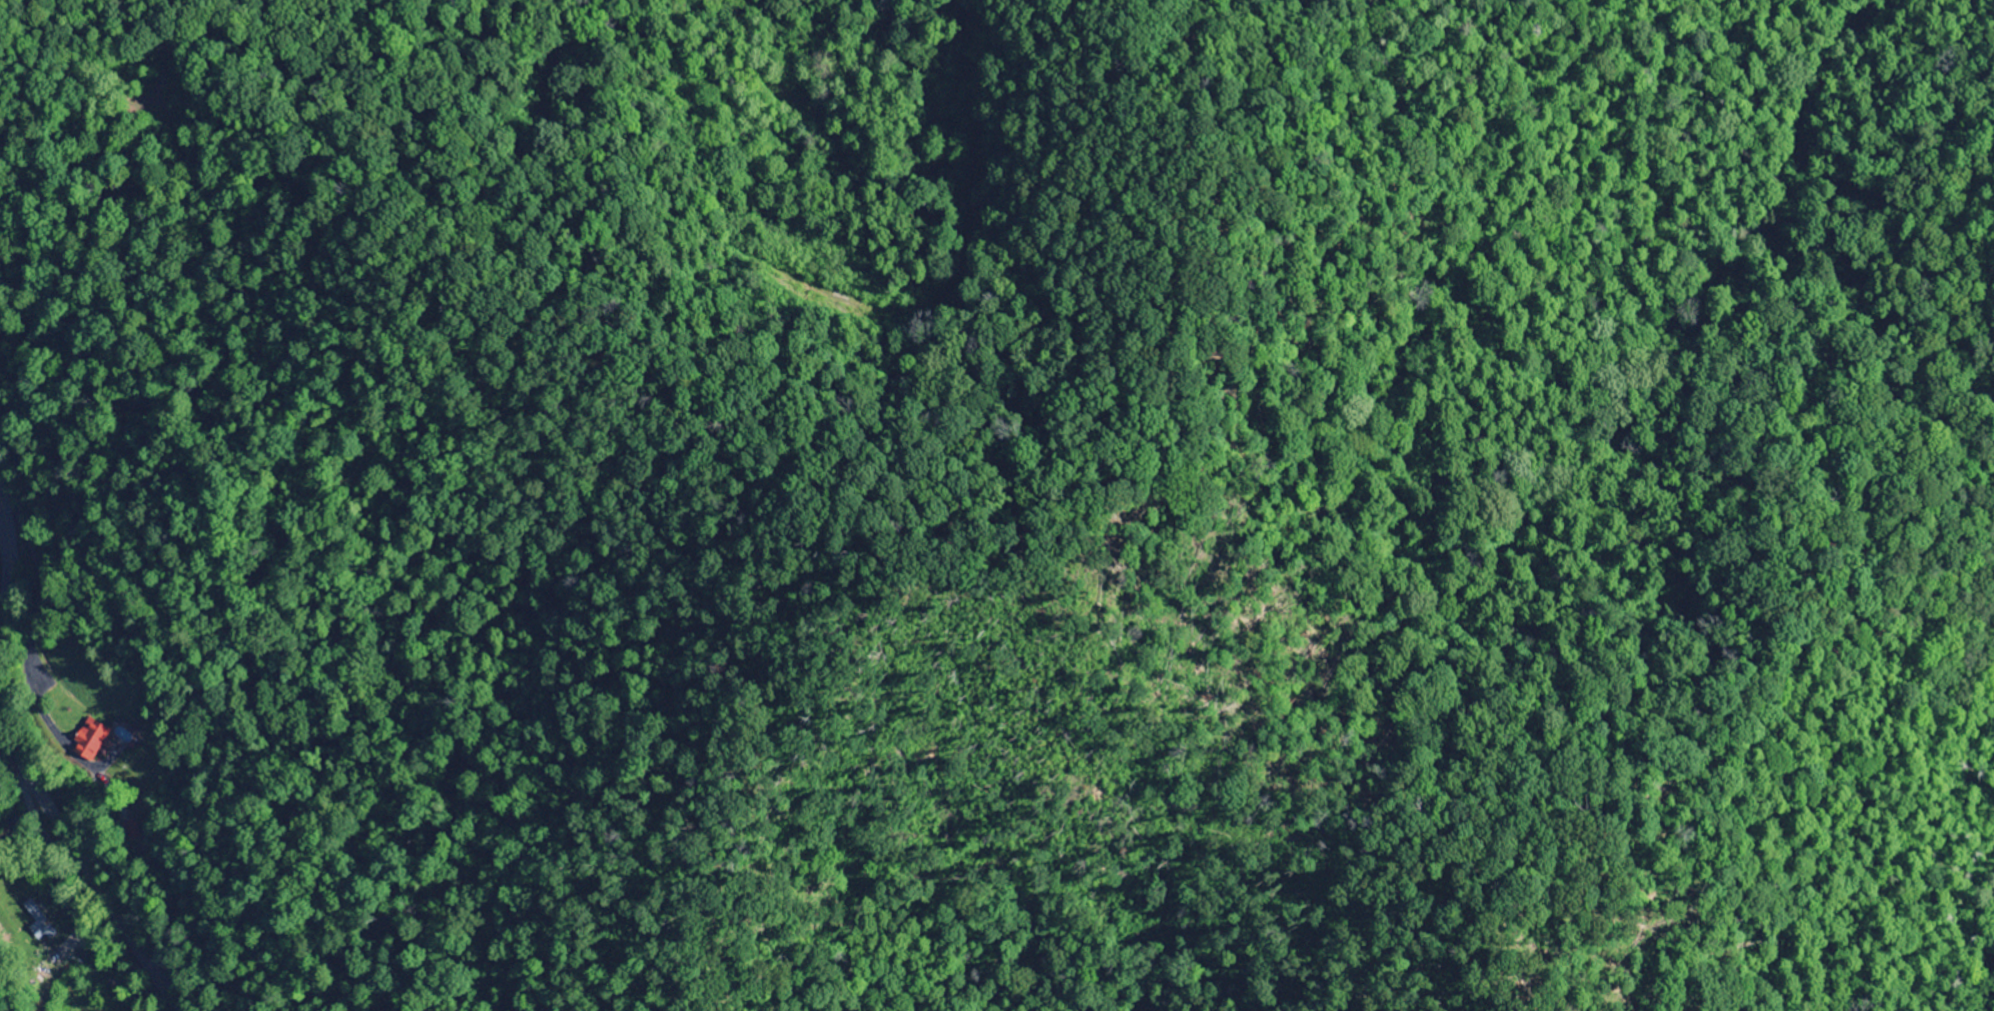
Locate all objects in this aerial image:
building: (88, 741)
road: (32, 777)
building: (37, 923)

